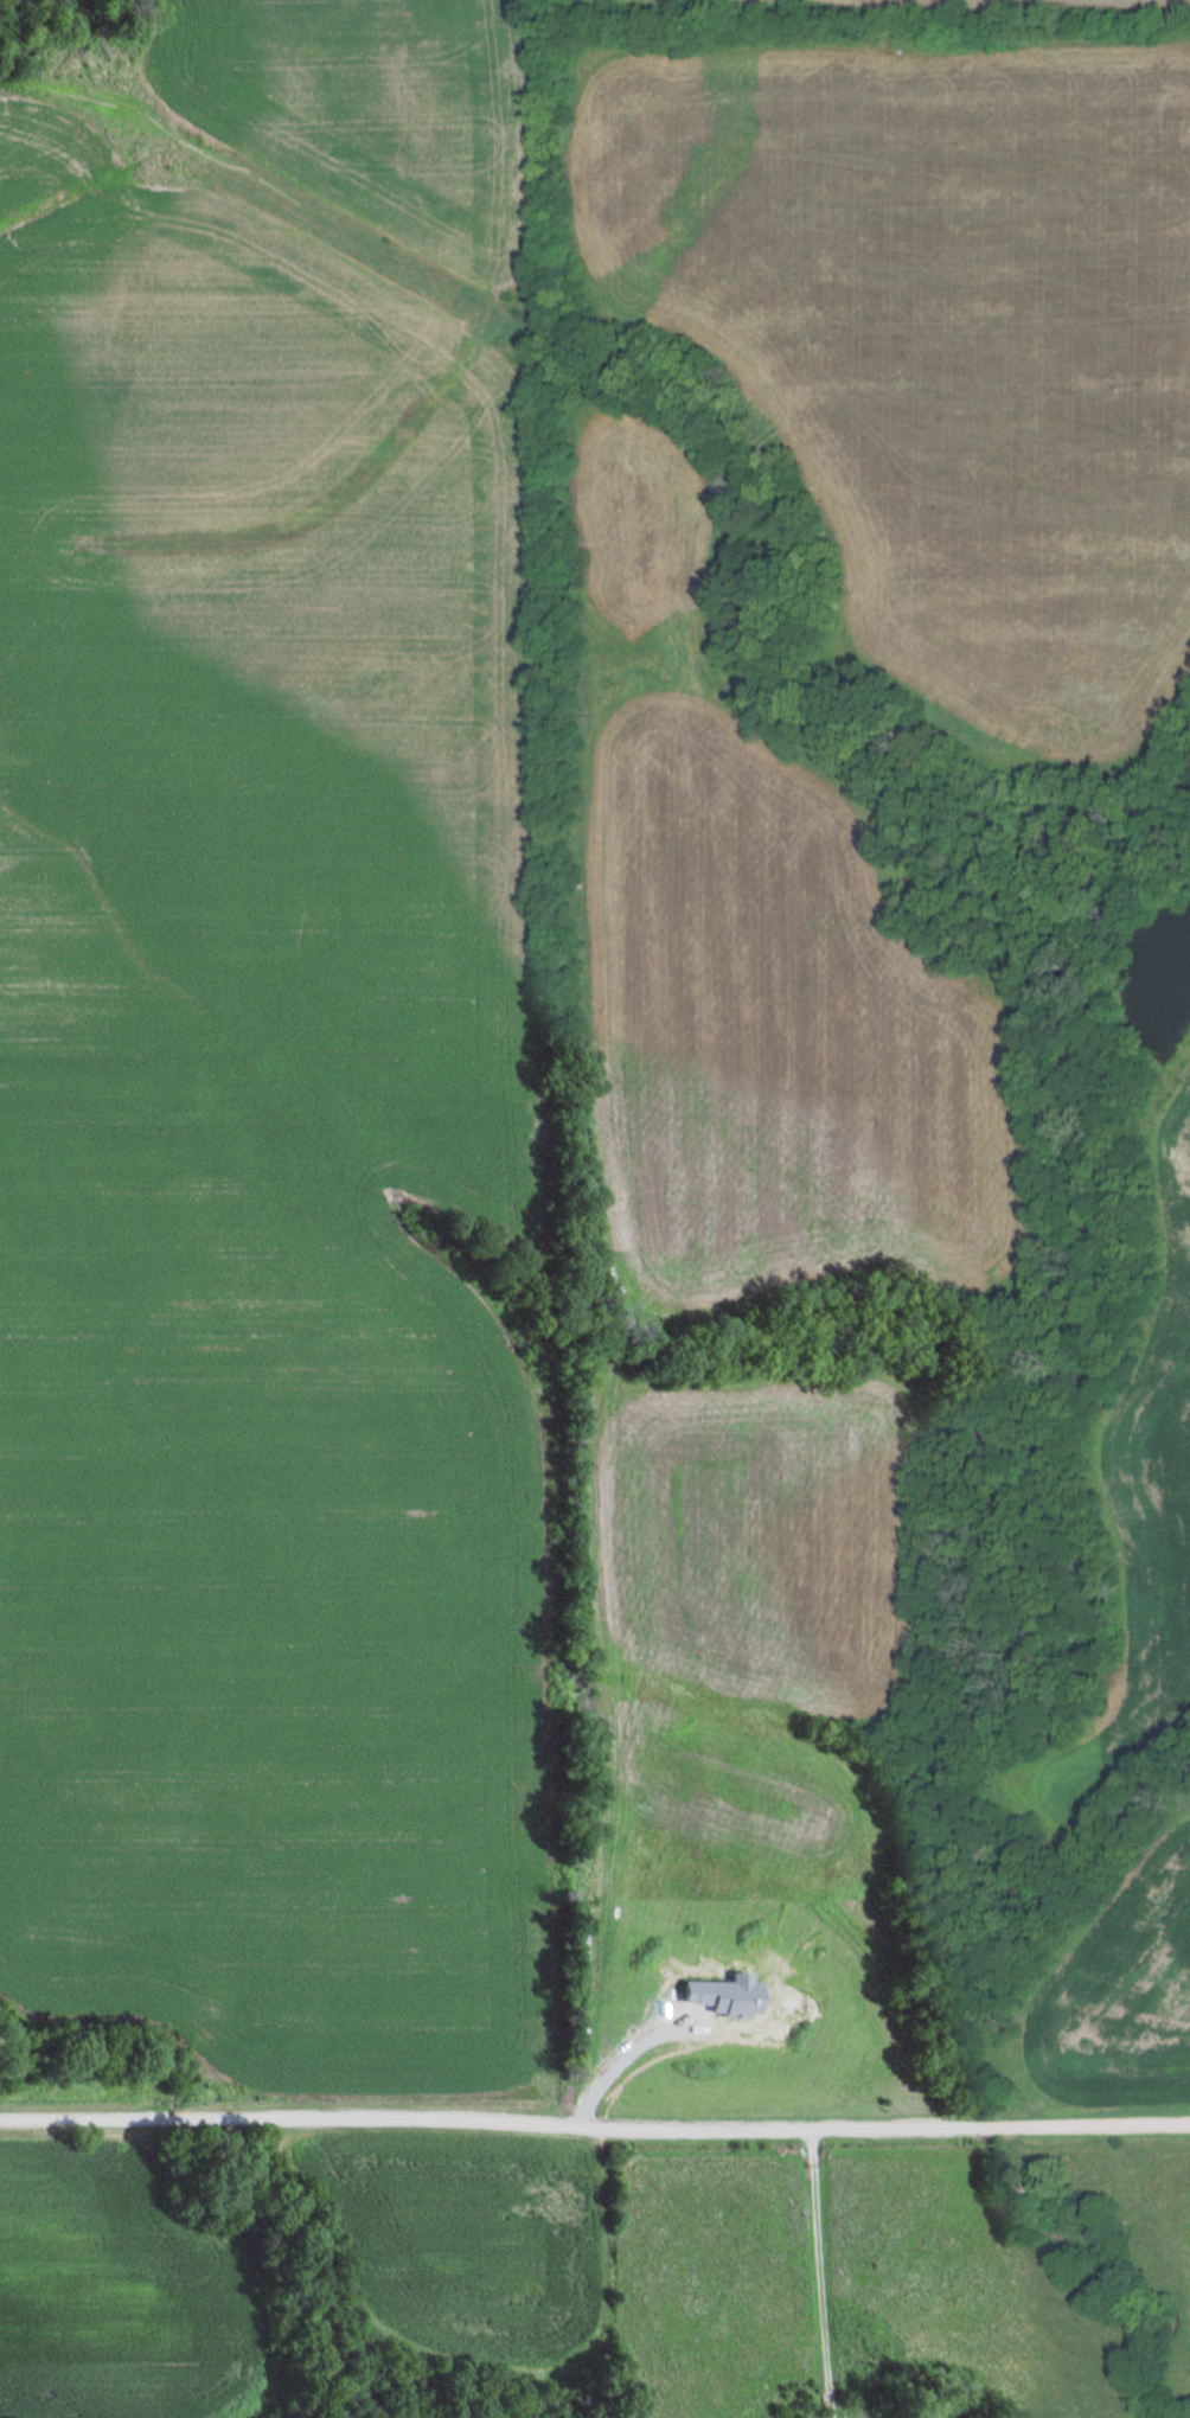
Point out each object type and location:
road: (932, 2118)
road: (337, 2119)
road: (815, 2267)

